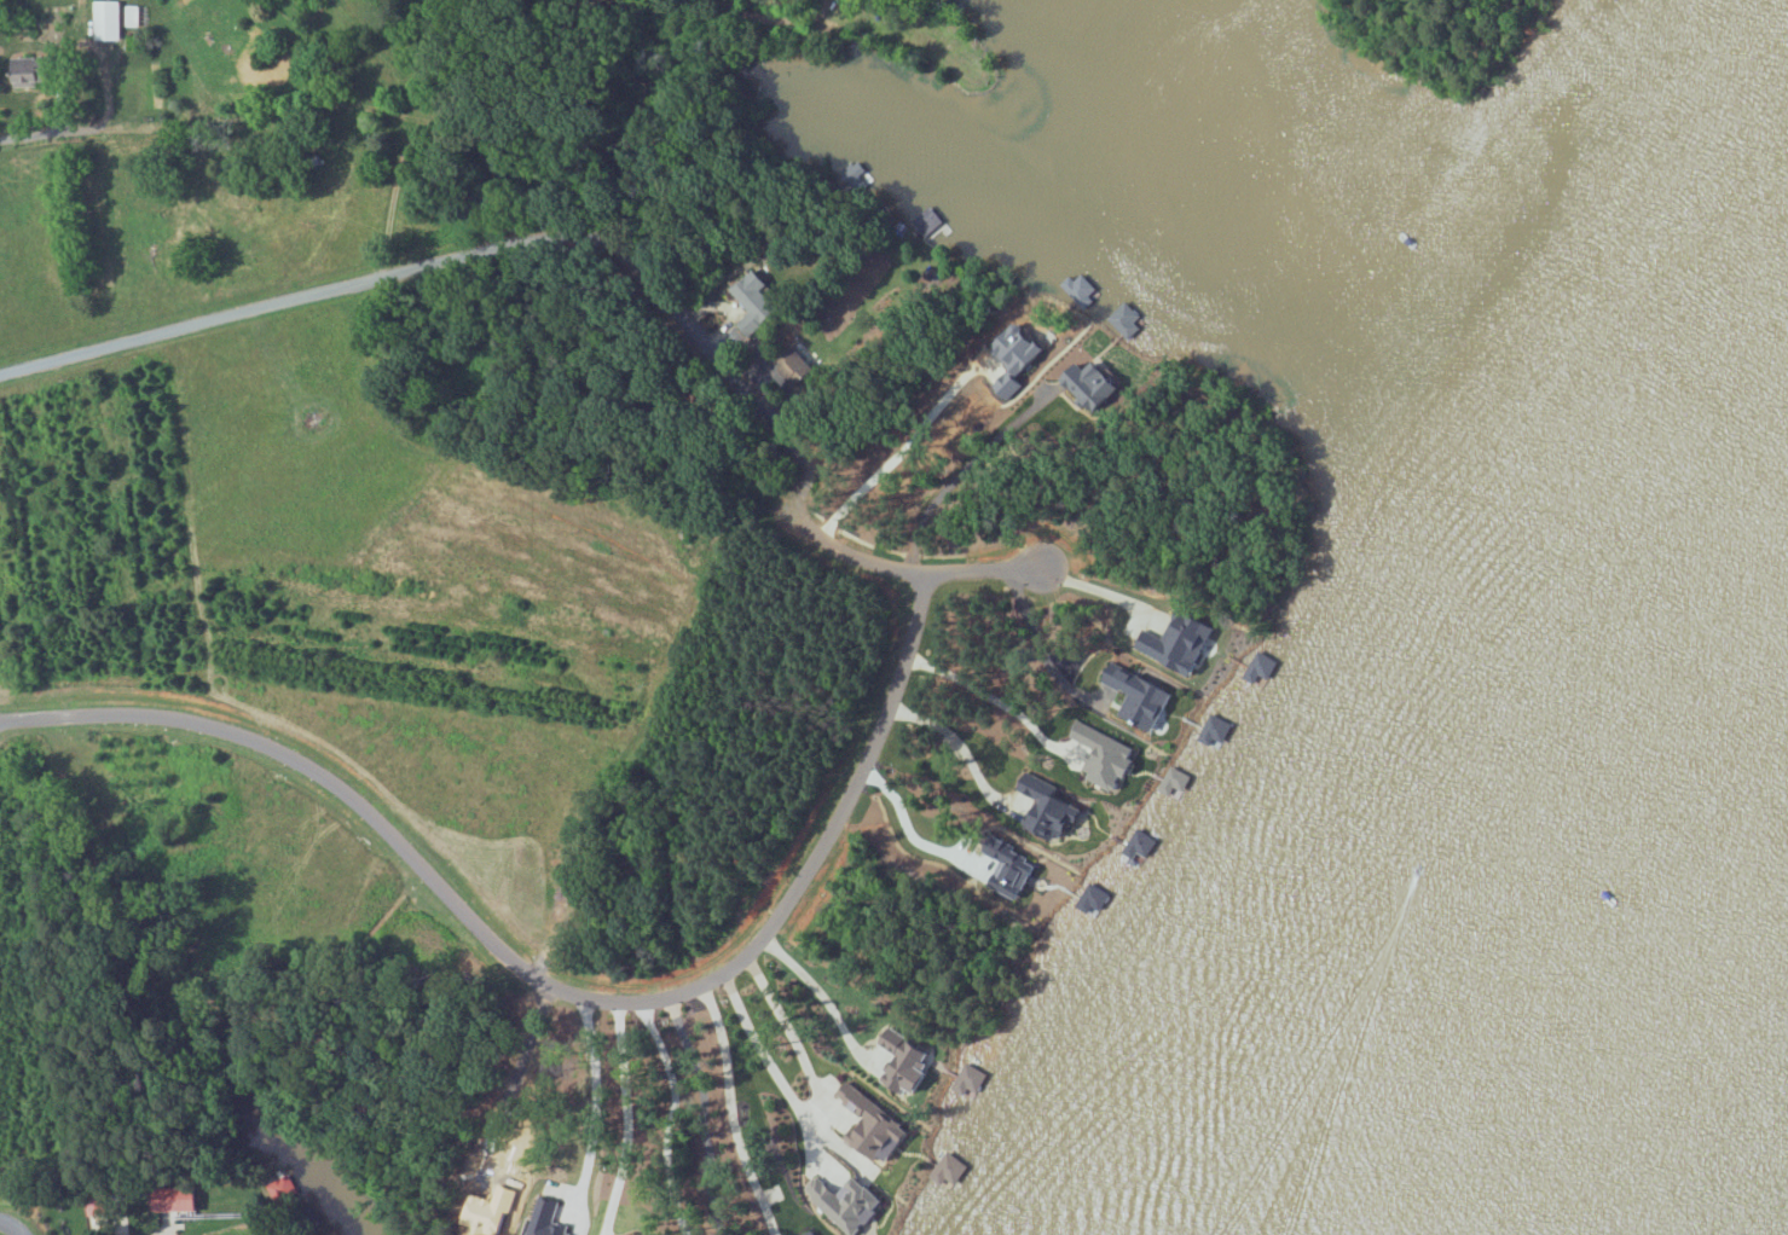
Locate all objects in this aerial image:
building: (132, 15)
building: (106, 18)
building: (30, 69)
road: (600, 239)
building: (752, 301)
building: (1126, 320)
building: (1081, 382)
building: (1182, 642)
building: (1260, 667)
road: (993, 698)
building: (1140, 698)
building: (1215, 731)
building: (1075, 752)
building: (1174, 782)
building: (1052, 814)
building: (1140, 843)
building: (1011, 874)
building: (1093, 898)
road: (549, 982)
building: (904, 1062)
building: (970, 1080)
road: (671, 1114)
road: (626, 1115)
building: (873, 1129)
building: (949, 1169)
building: (283, 1189)
building: (174, 1200)
building: (844, 1202)
building: (546, 1218)
road: (10, 1225)

